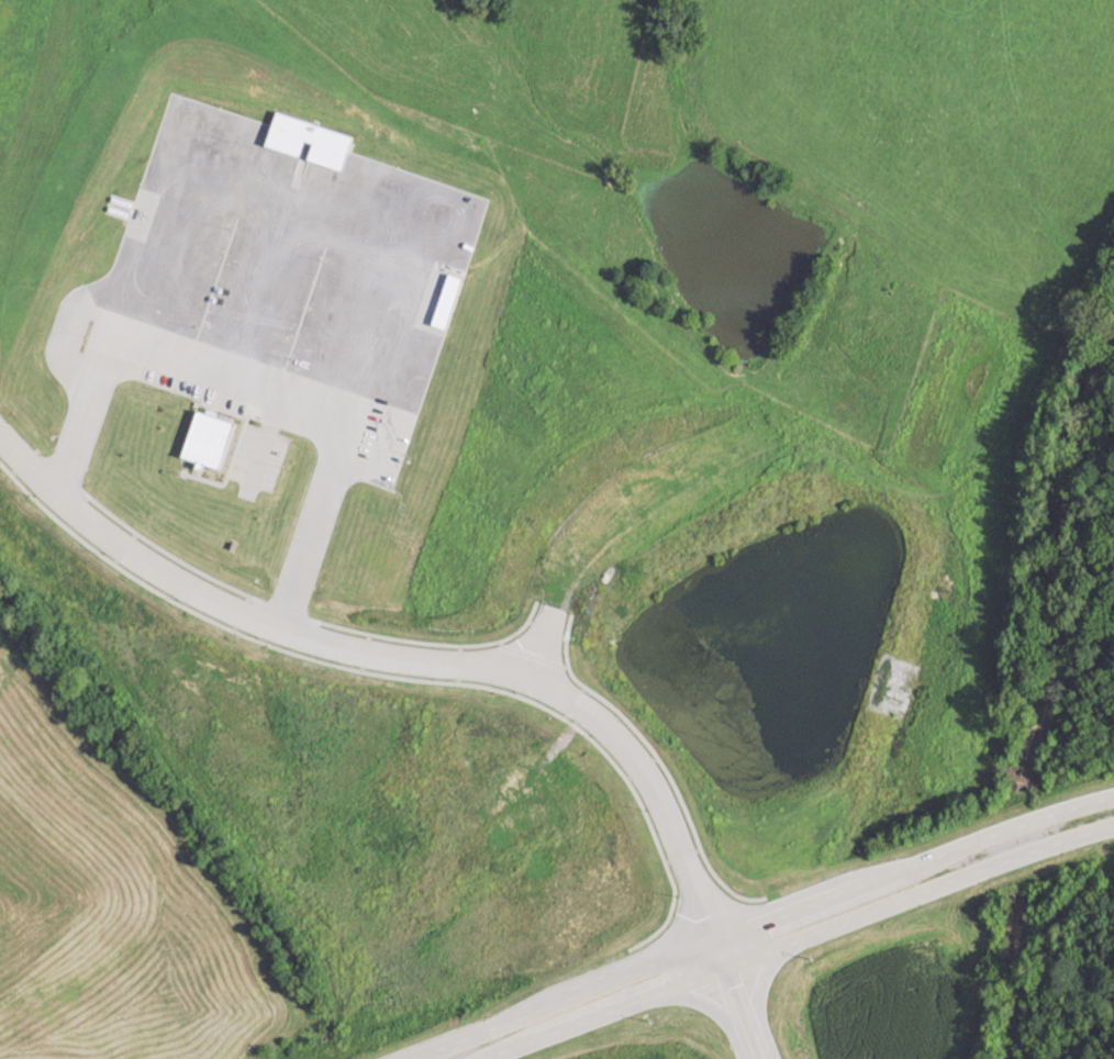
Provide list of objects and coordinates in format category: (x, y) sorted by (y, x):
road: (907, 866)
road: (914, 893)
road: (728, 1001)
road: (554, 1002)
road: (600, 1014)

